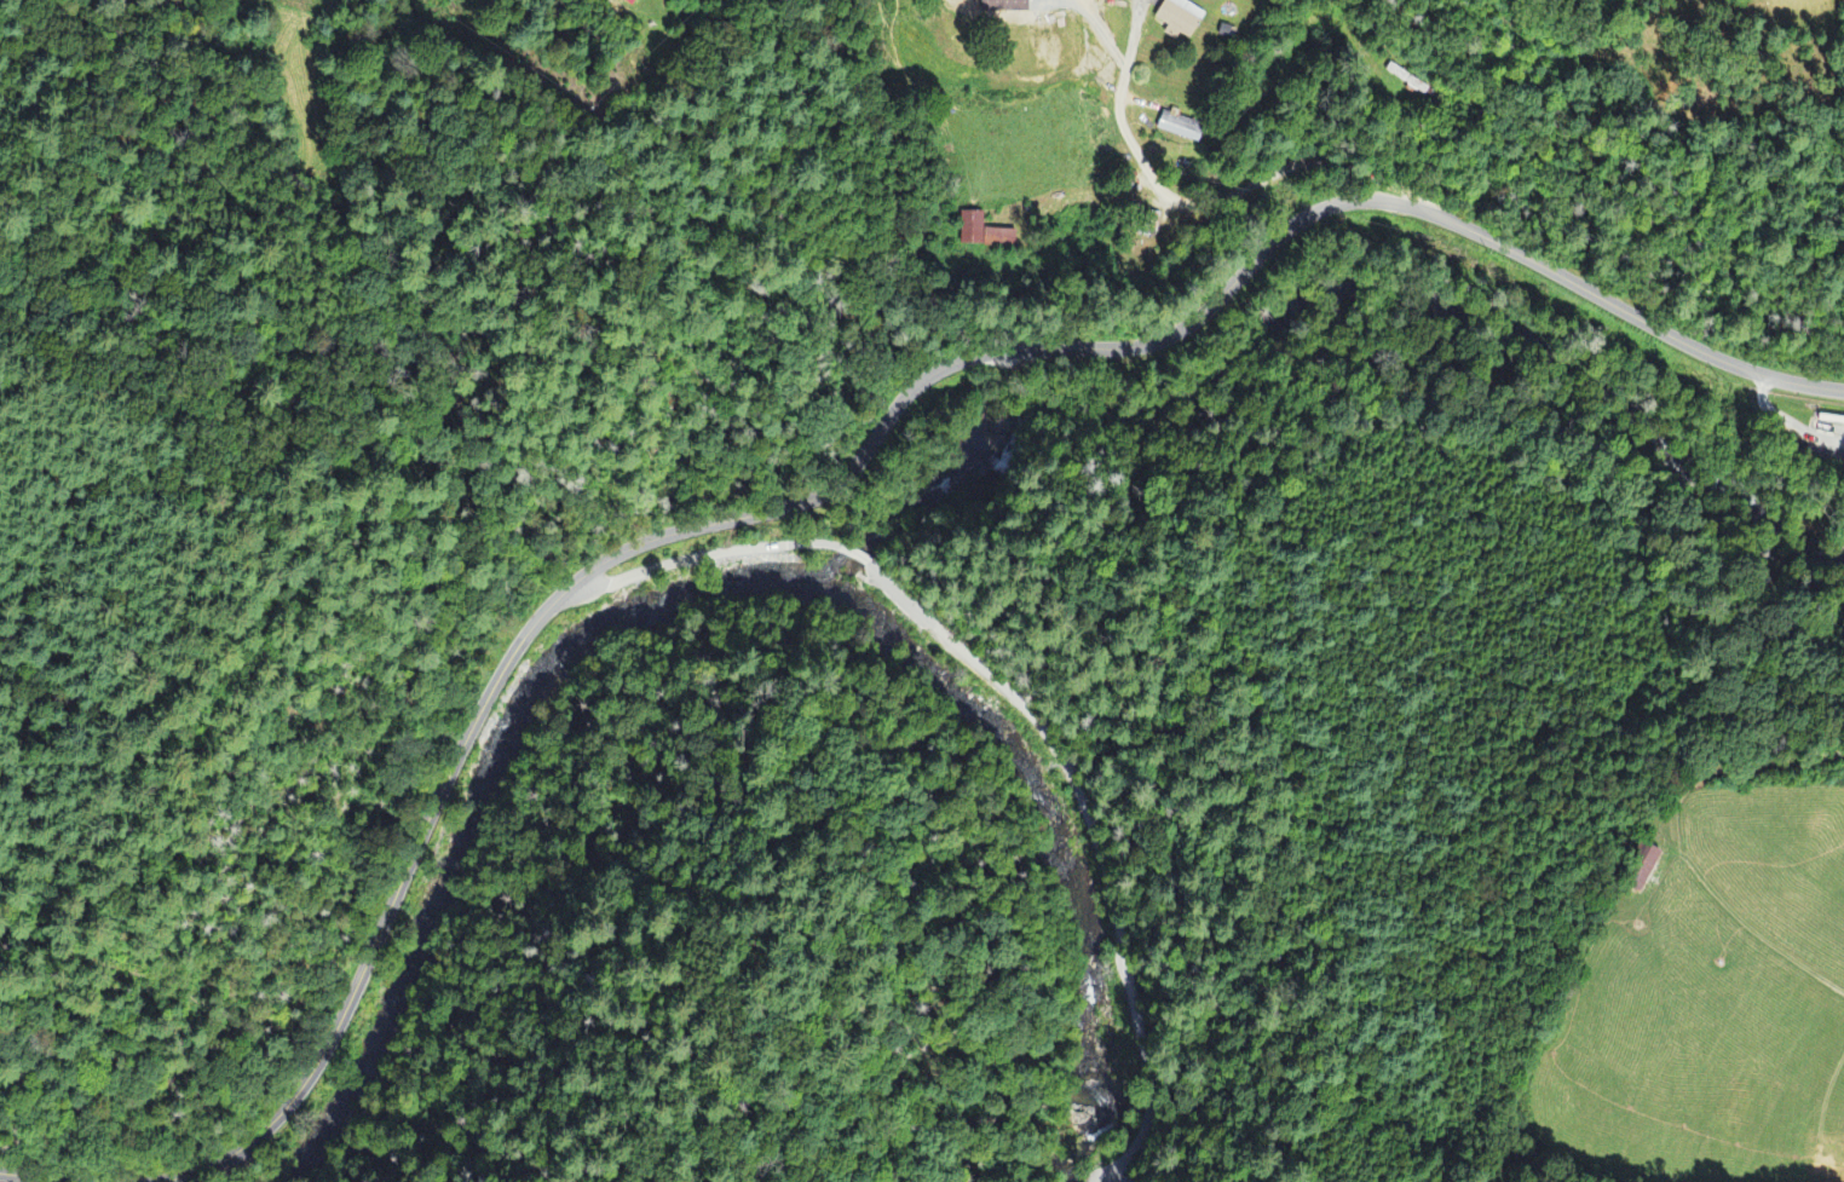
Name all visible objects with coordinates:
building: (632, 2)
road: (597, 17)
building: (1183, 18)
building: (1181, 129)
road: (1205, 202)
building: (985, 236)
road: (874, 437)
road: (853, 554)
road: (695, 559)
river: (703, 623)
road: (1095, 834)
river: (1027, 848)
river: (433, 910)
road: (31, 1176)

